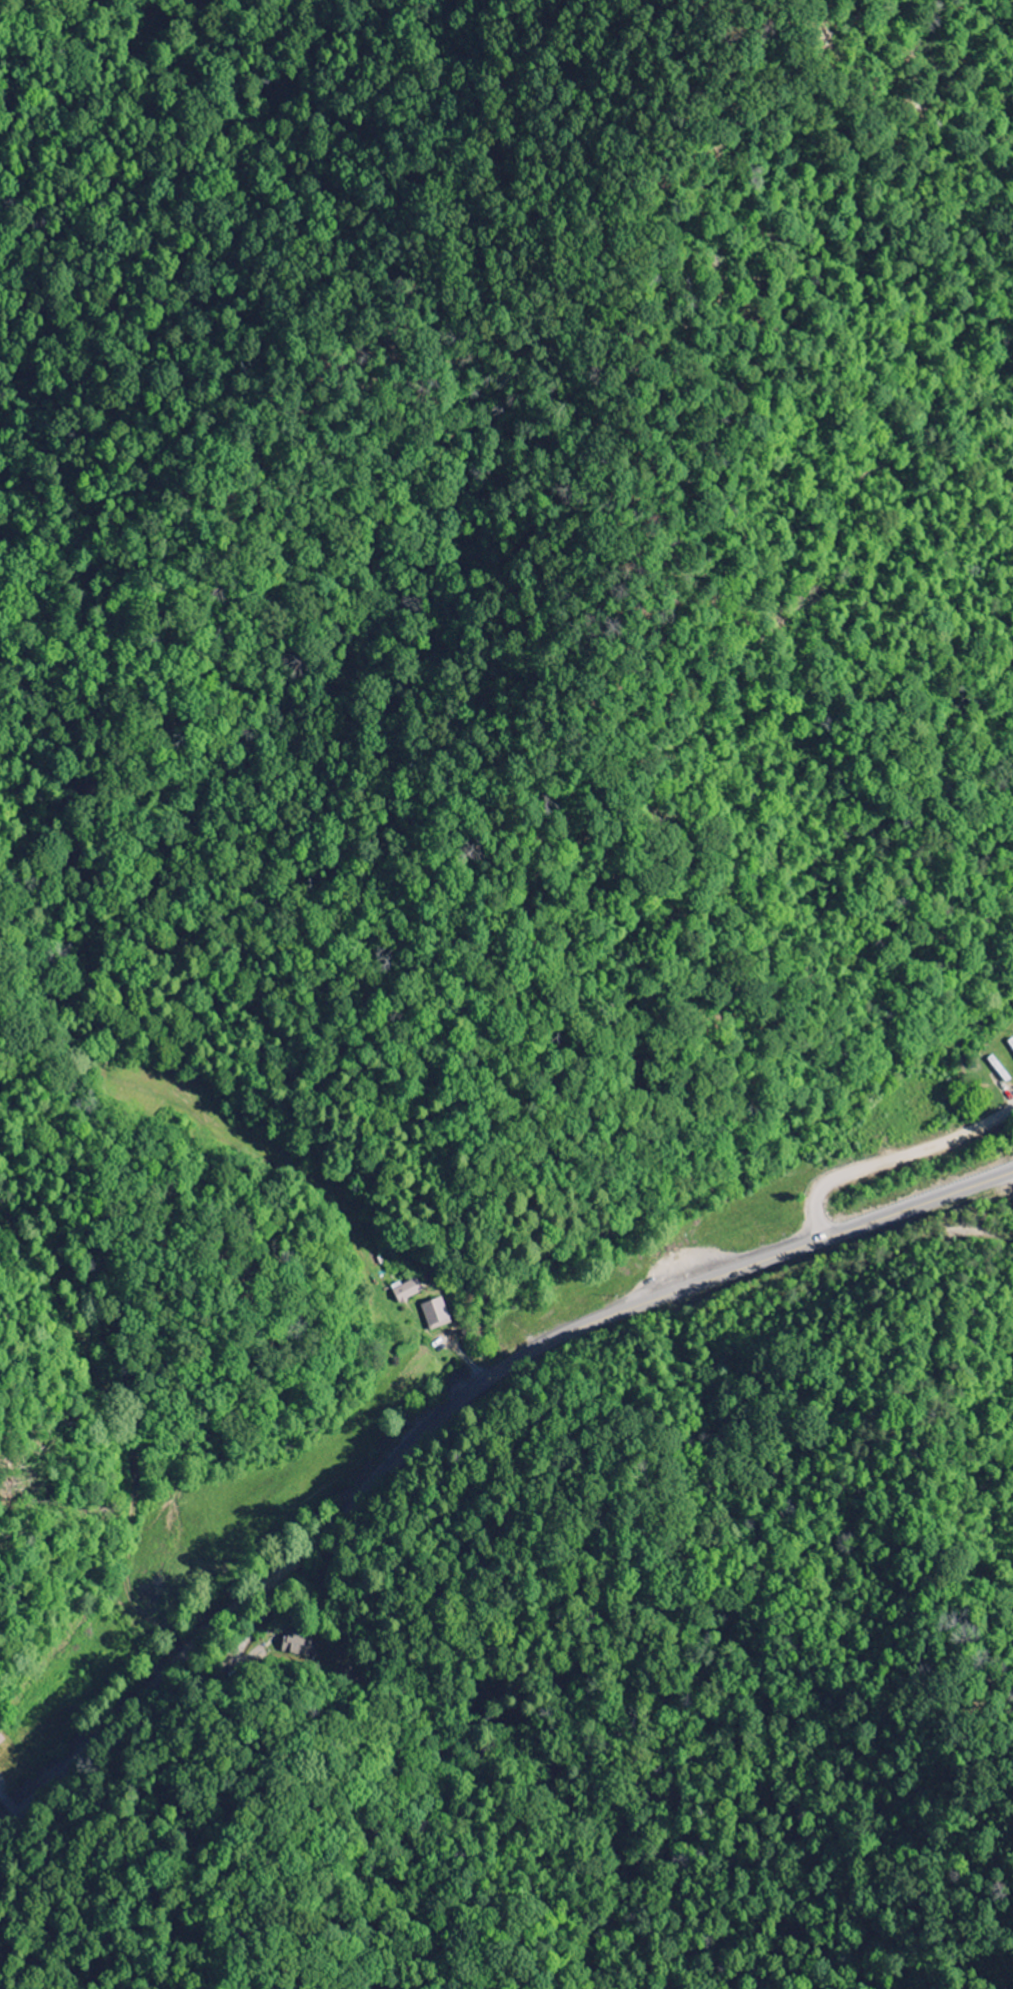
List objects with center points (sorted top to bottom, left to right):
road: (894, 1157)
building: (407, 1291)
building: (435, 1314)
road: (448, 1408)

